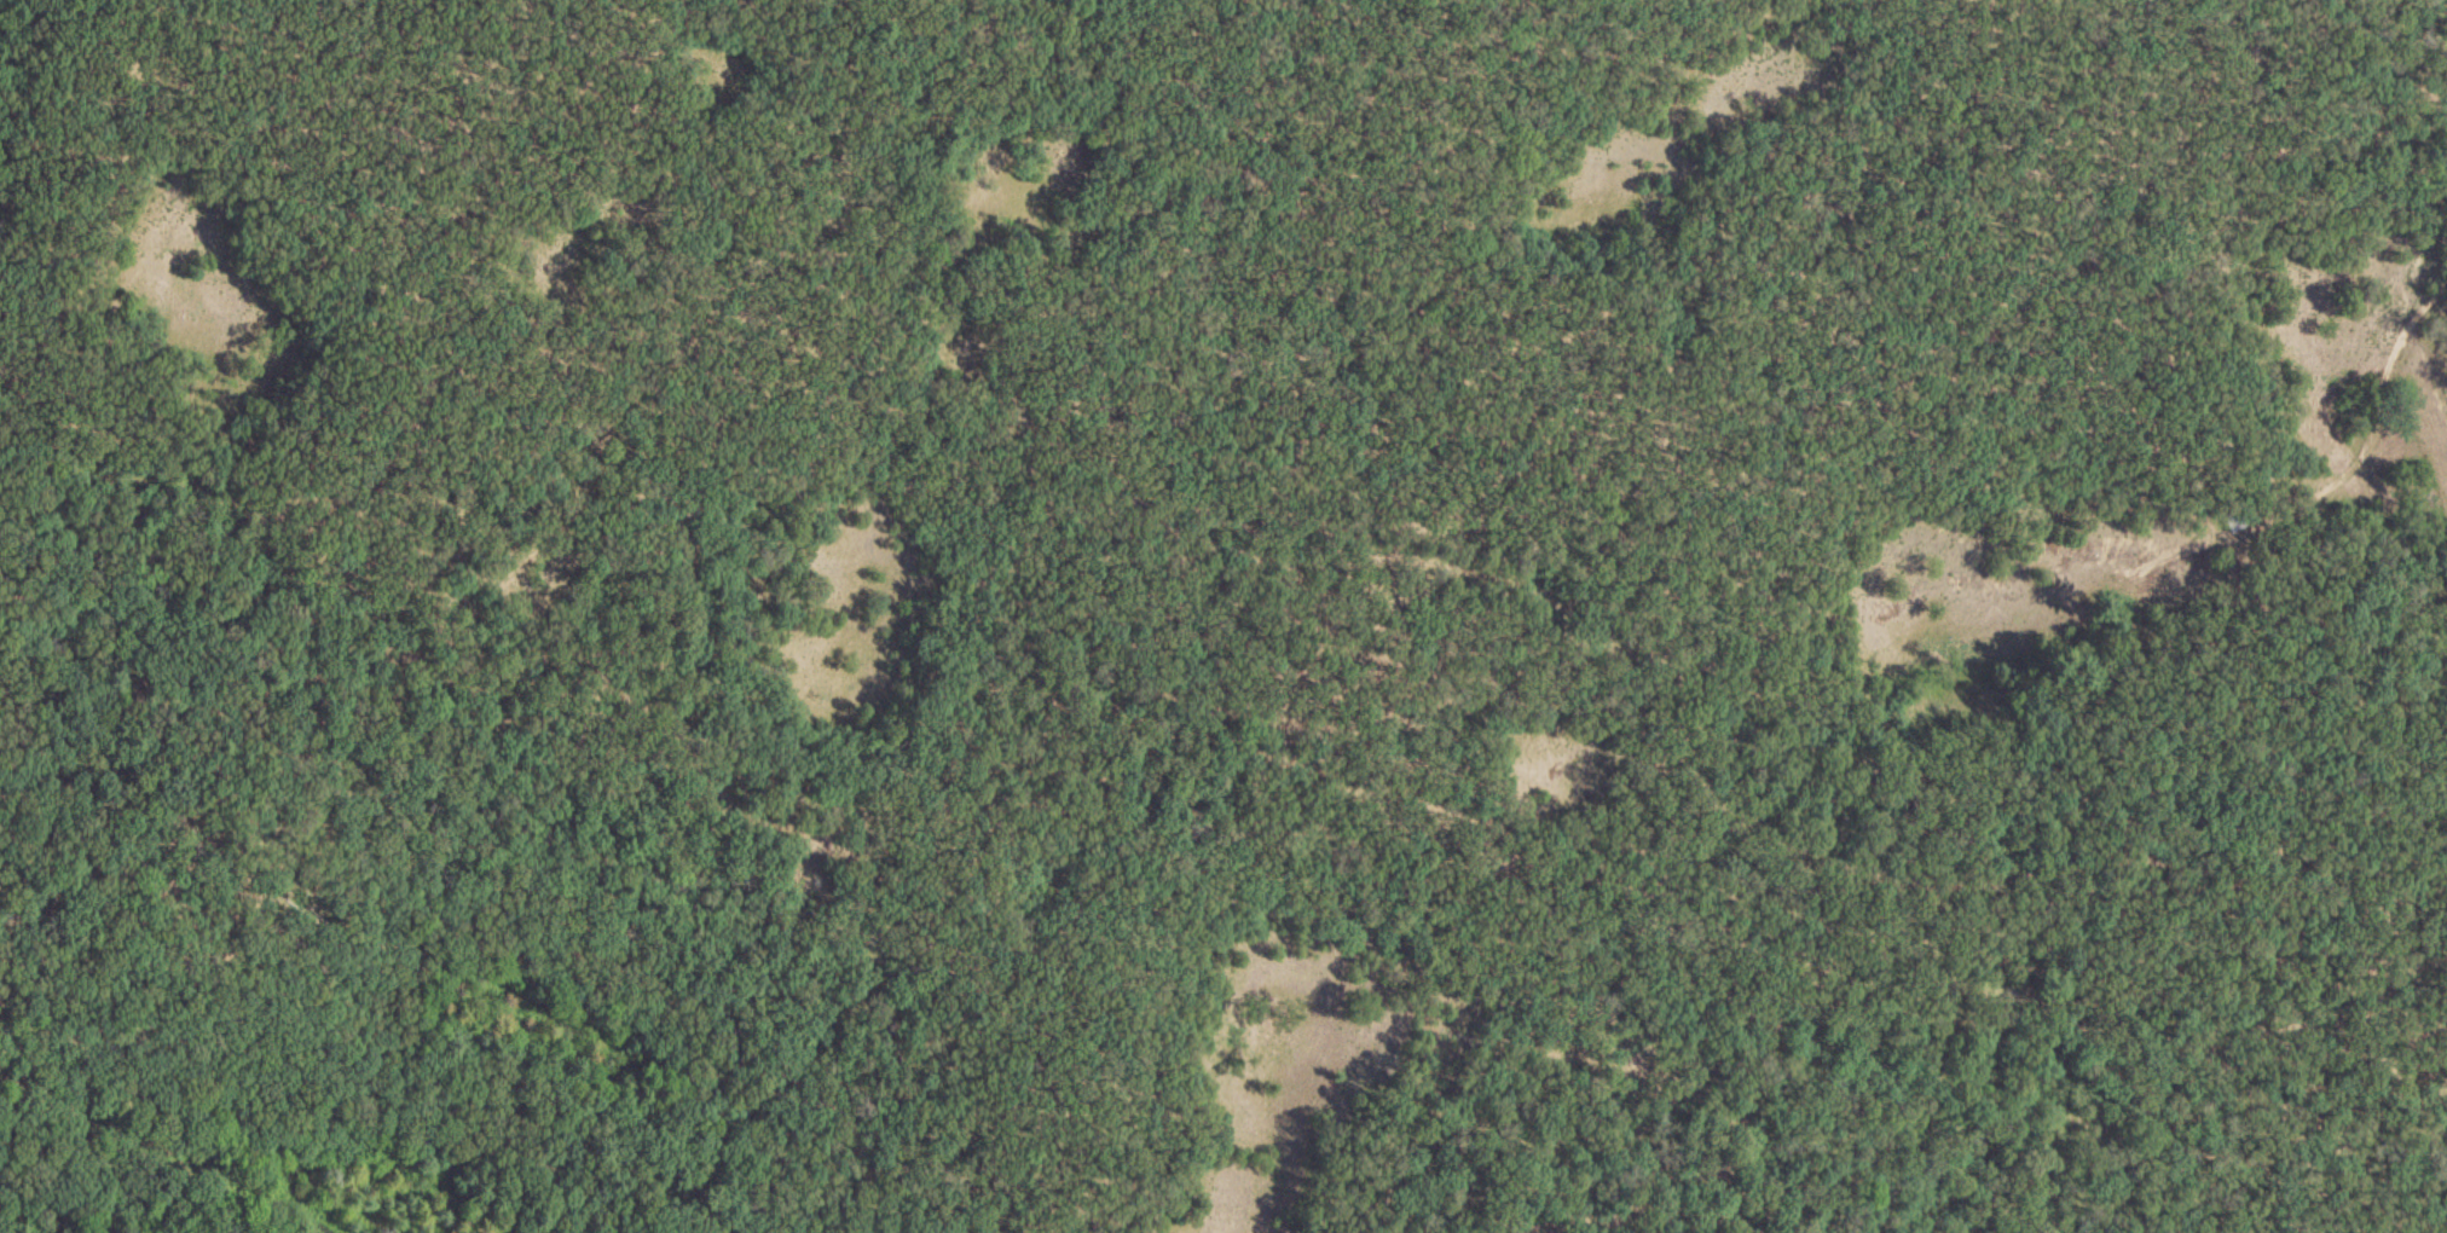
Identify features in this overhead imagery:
building: (2235, 520)

